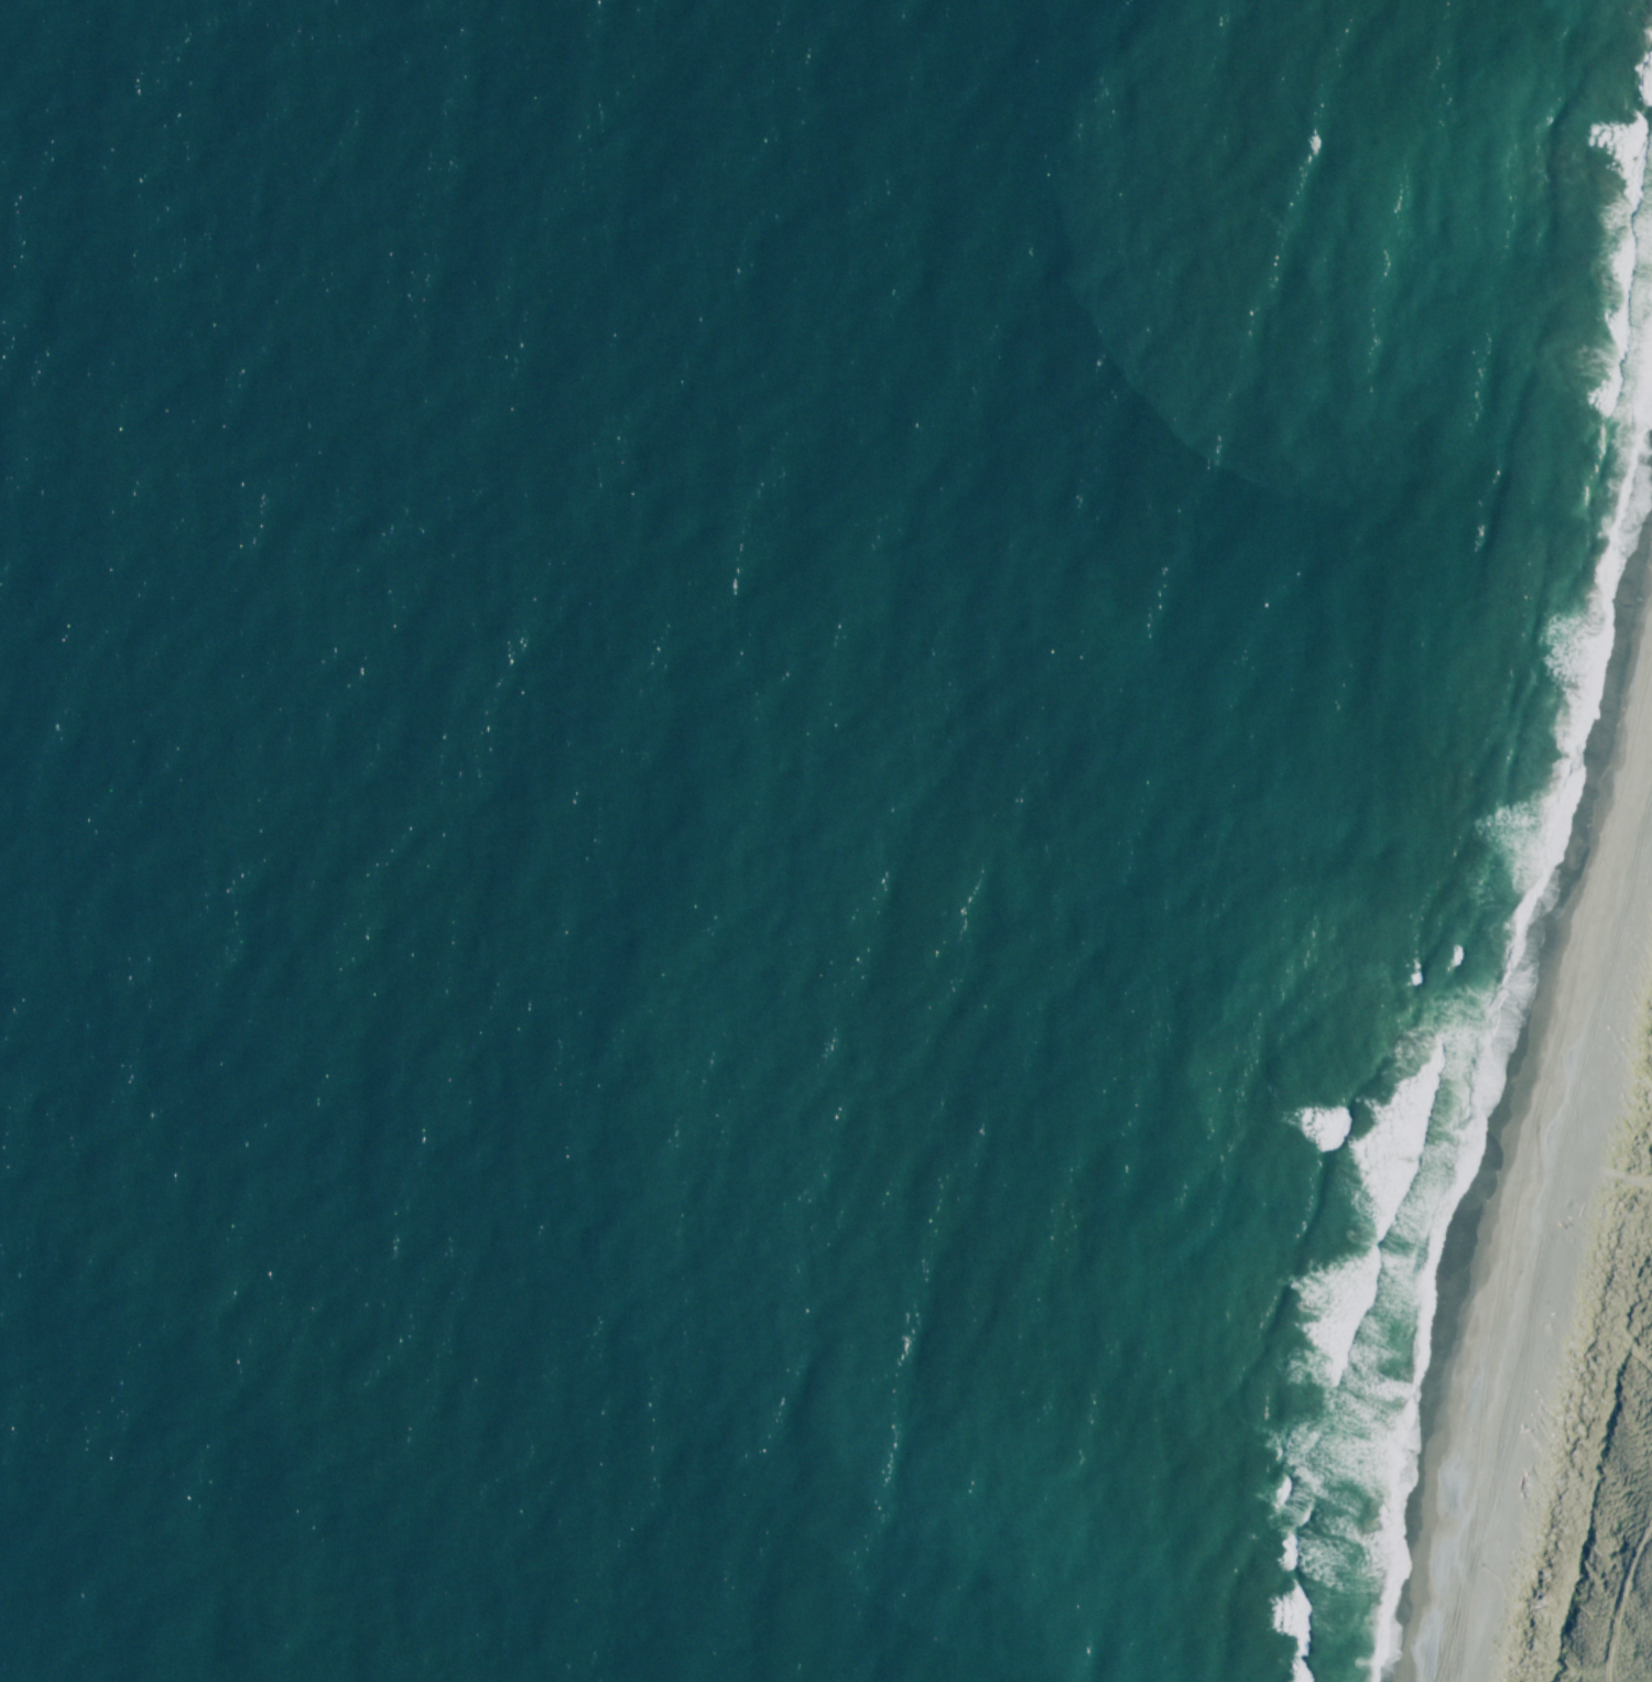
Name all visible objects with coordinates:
road: (1616, 1594)

